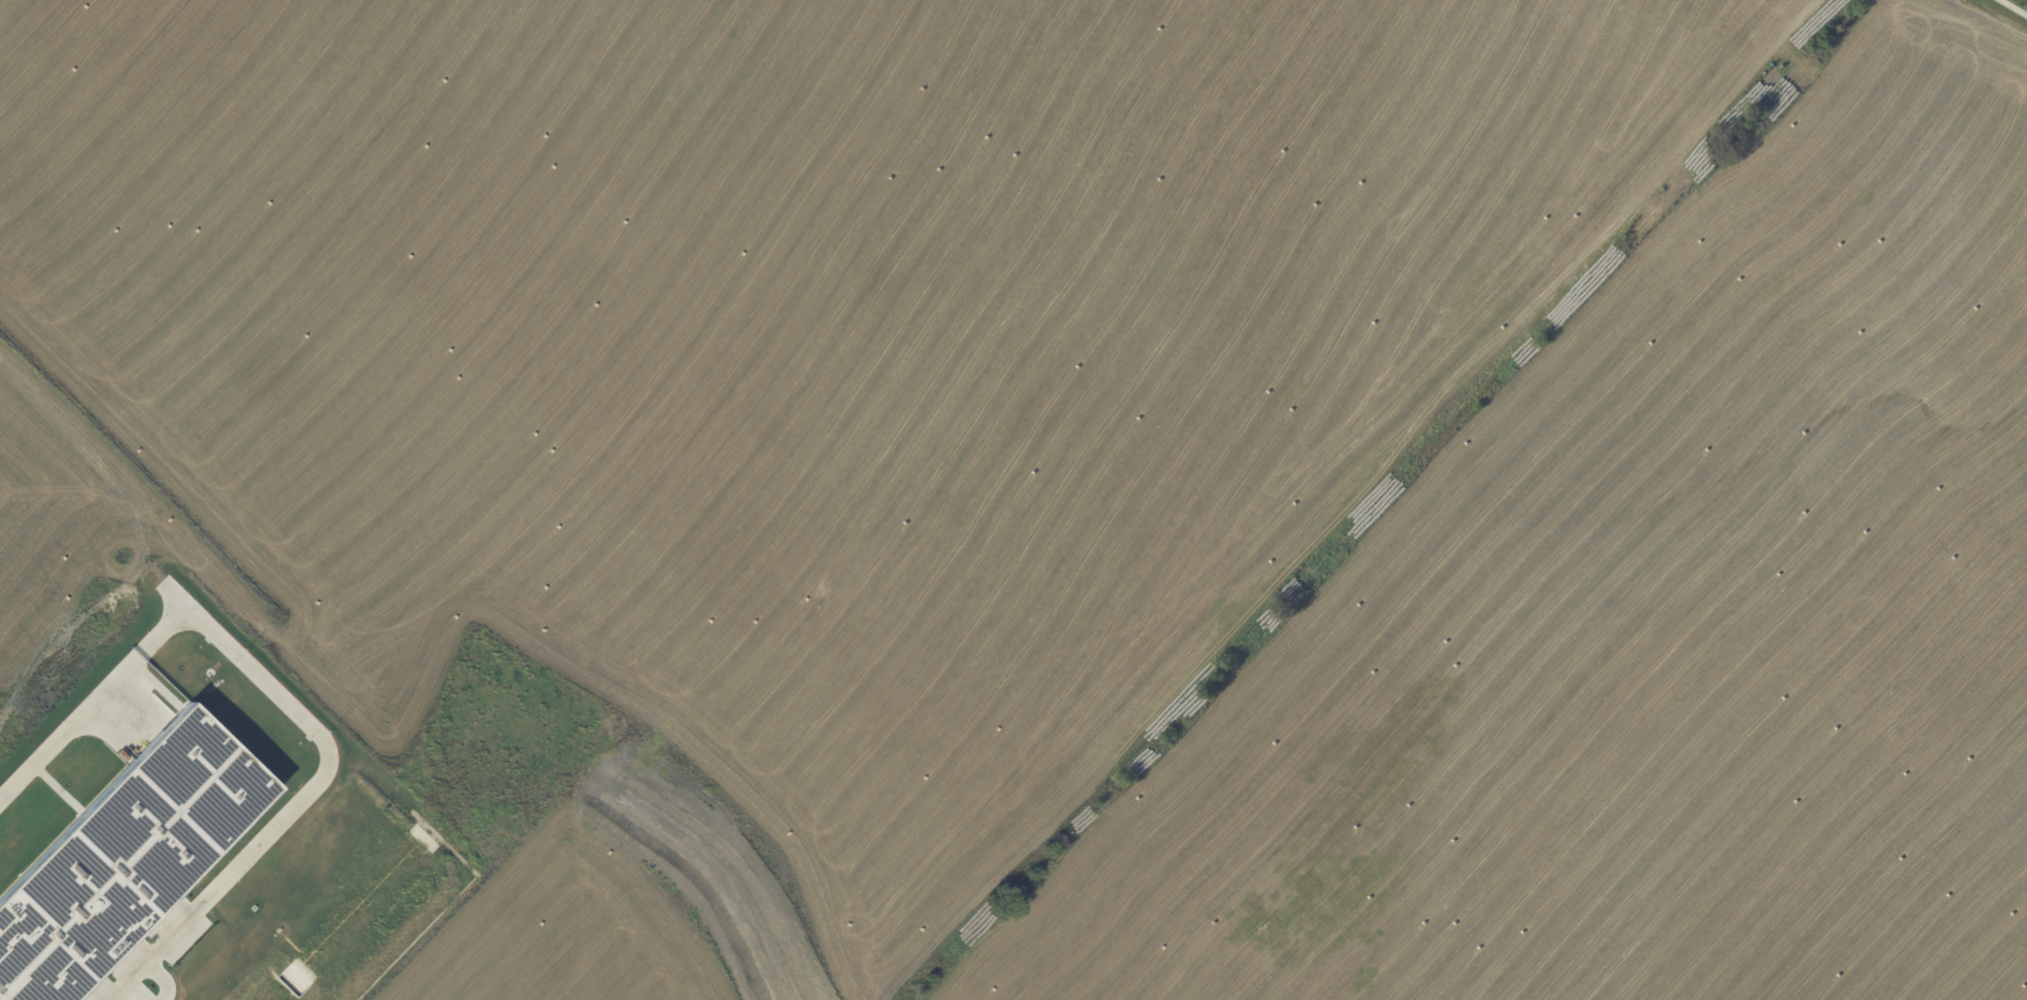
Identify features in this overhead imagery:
road: (2014, 7)
road: (286, 694)
road: (164, 979)

